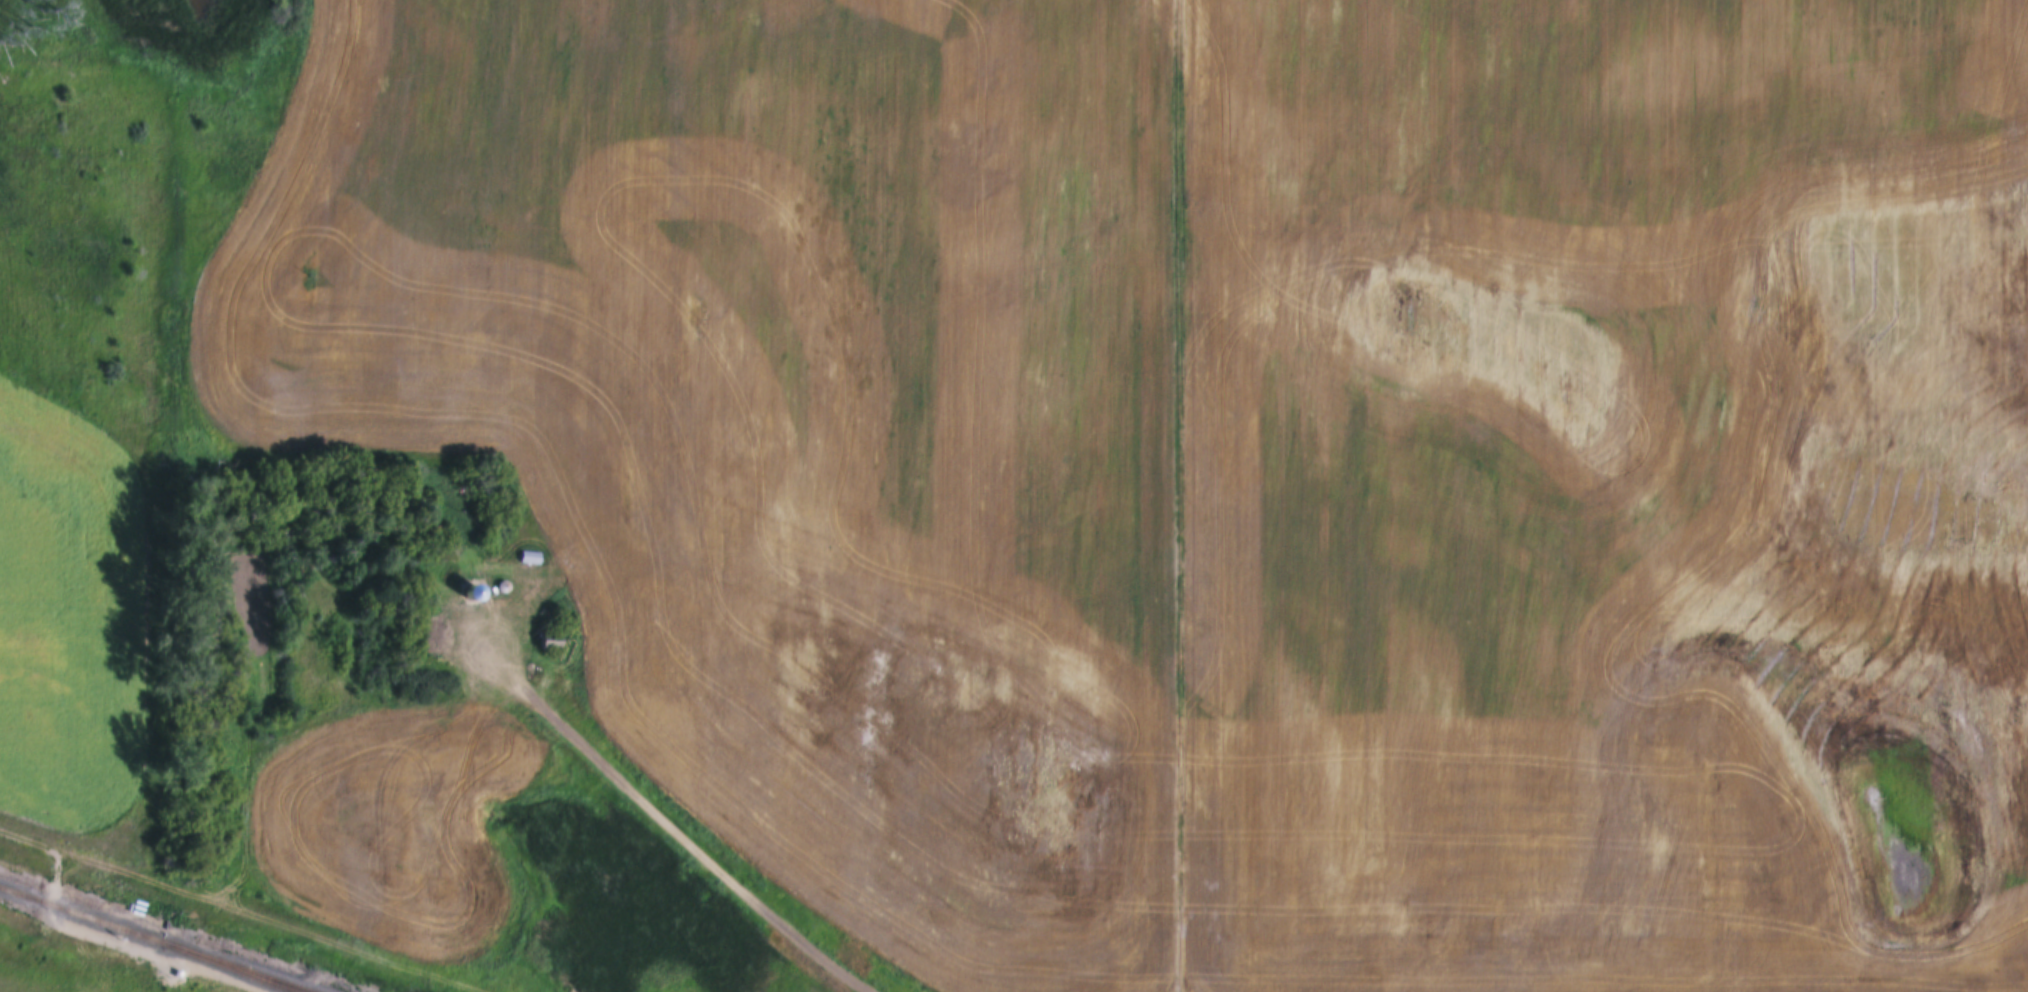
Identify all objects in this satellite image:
building: (525, 557)
road: (700, 844)
storage tank: (135, 891)
storage tank: (133, 896)
storage tank: (131, 901)
railway: (154, 939)
building: (170, 963)
railway: (227, 968)

